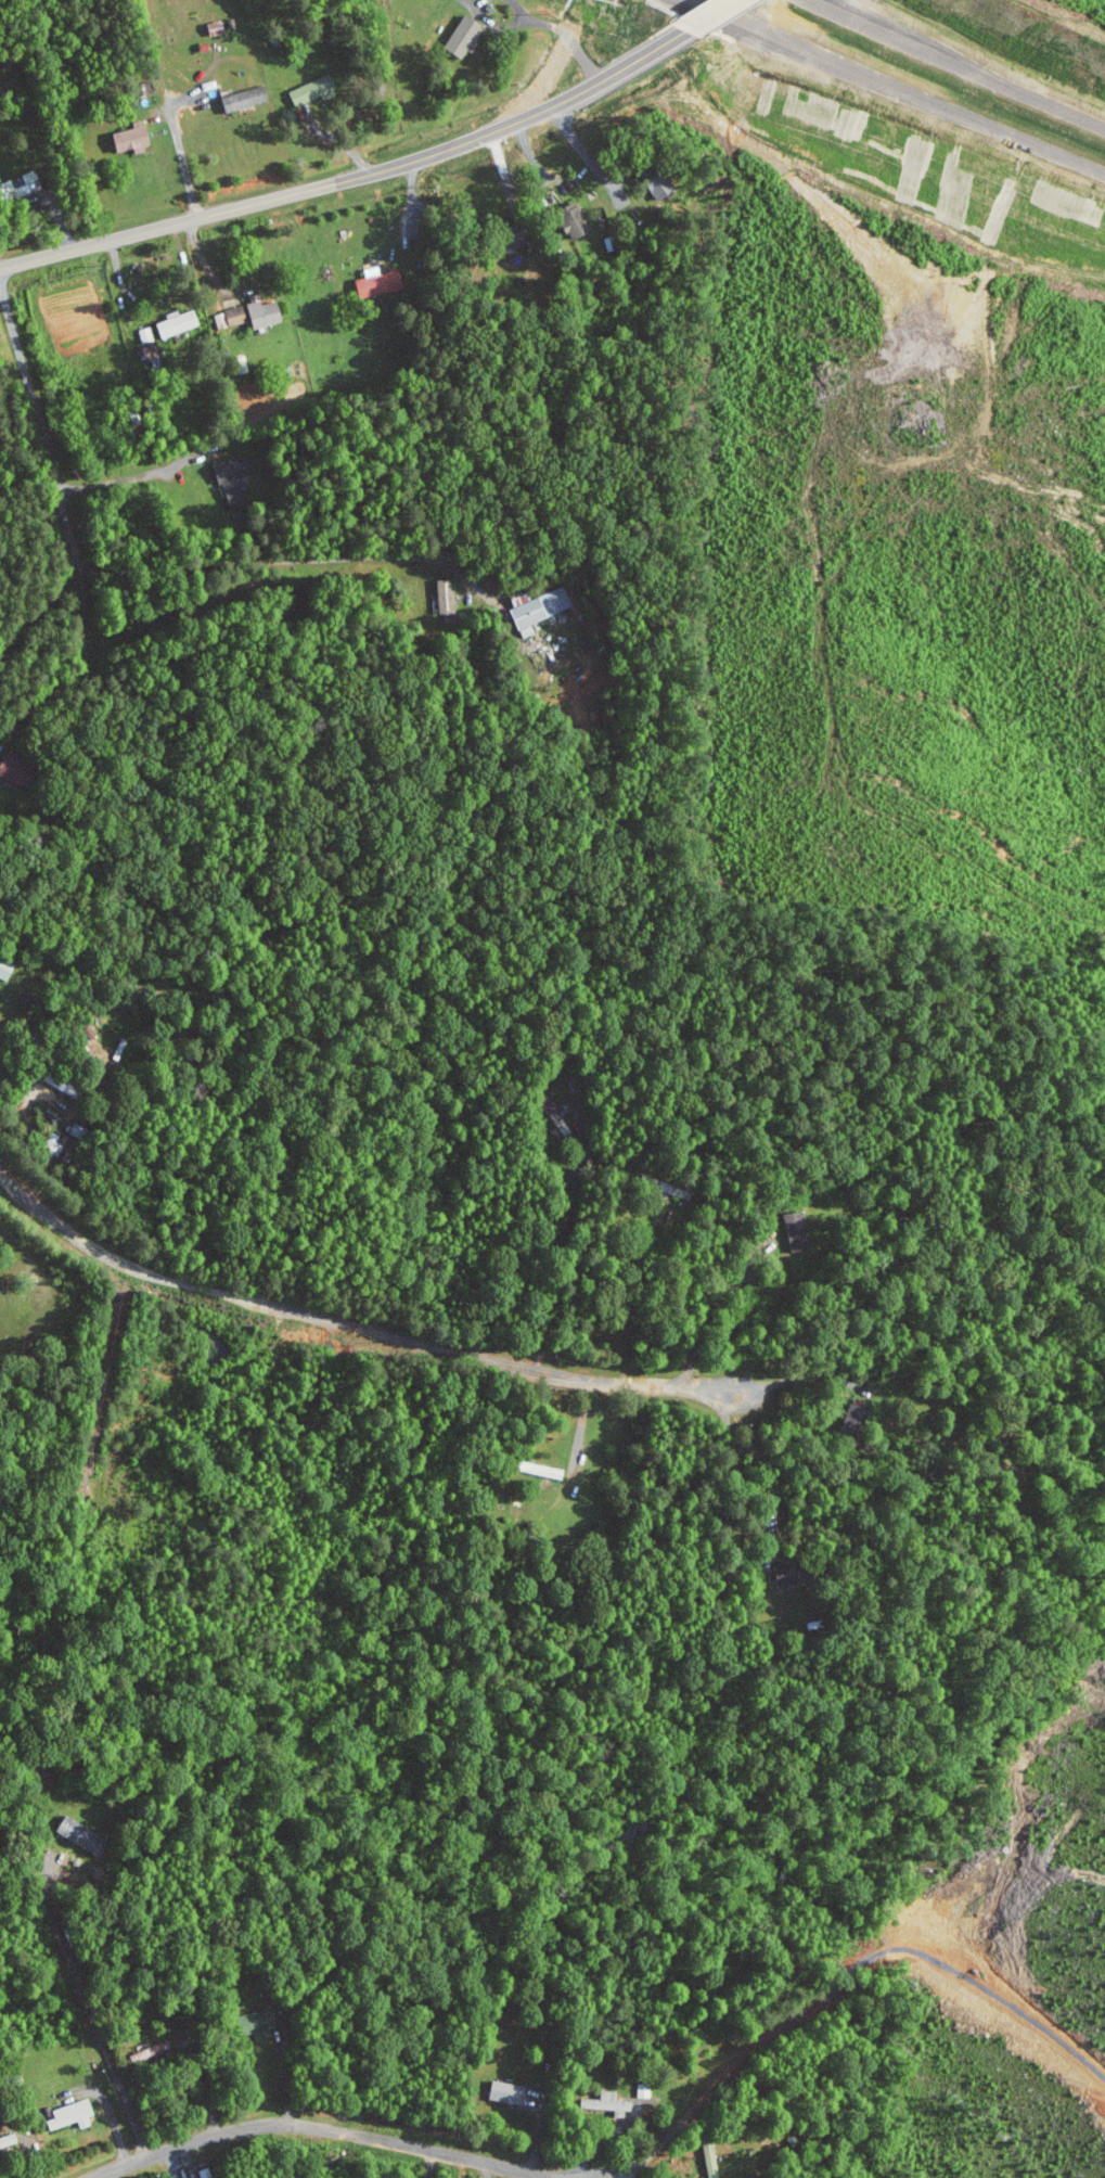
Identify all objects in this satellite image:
road: (833, 11)
road: (838, 11)
road: (716, 13)
road: (774, 30)
building: (466, 35)
road: (573, 36)
road: (981, 74)
building: (316, 90)
building: (246, 98)
road: (973, 116)
building: (133, 138)
road: (178, 149)
road: (586, 153)
road: (358, 176)
building: (659, 180)
building: (23, 183)
road: (415, 217)
building: (579, 220)
building: (380, 283)
building: (266, 312)
building: (232, 317)
building: (179, 322)
road: (48, 453)
road: (130, 478)
building: (233, 479)
building: (447, 597)
building: (540, 610)
road: (40, 616)
road: (54, 693)
building: (11, 766)
building: (5, 968)
building: (797, 1231)
road: (712, 1314)
road: (352, 1329)
road: (804, 1378)
building: (856, 1417)
road: (580, 1426)
building: (795, 1573)
building: (81, 1834)
road: (88, 2006)
building: (258, 2023)
building: (151, 2051)
road: (285, 2070)
road: (204, 2084)
building: (644, 2089)
building: (509, 2091)
building: (608, 2102)
building: (74, 2114)
road: (321, 2128)
building: (9, 2140)
road: (601, 2143)
building: (712, 2162)
road: (428, 2164)
road: (487, 2170)

